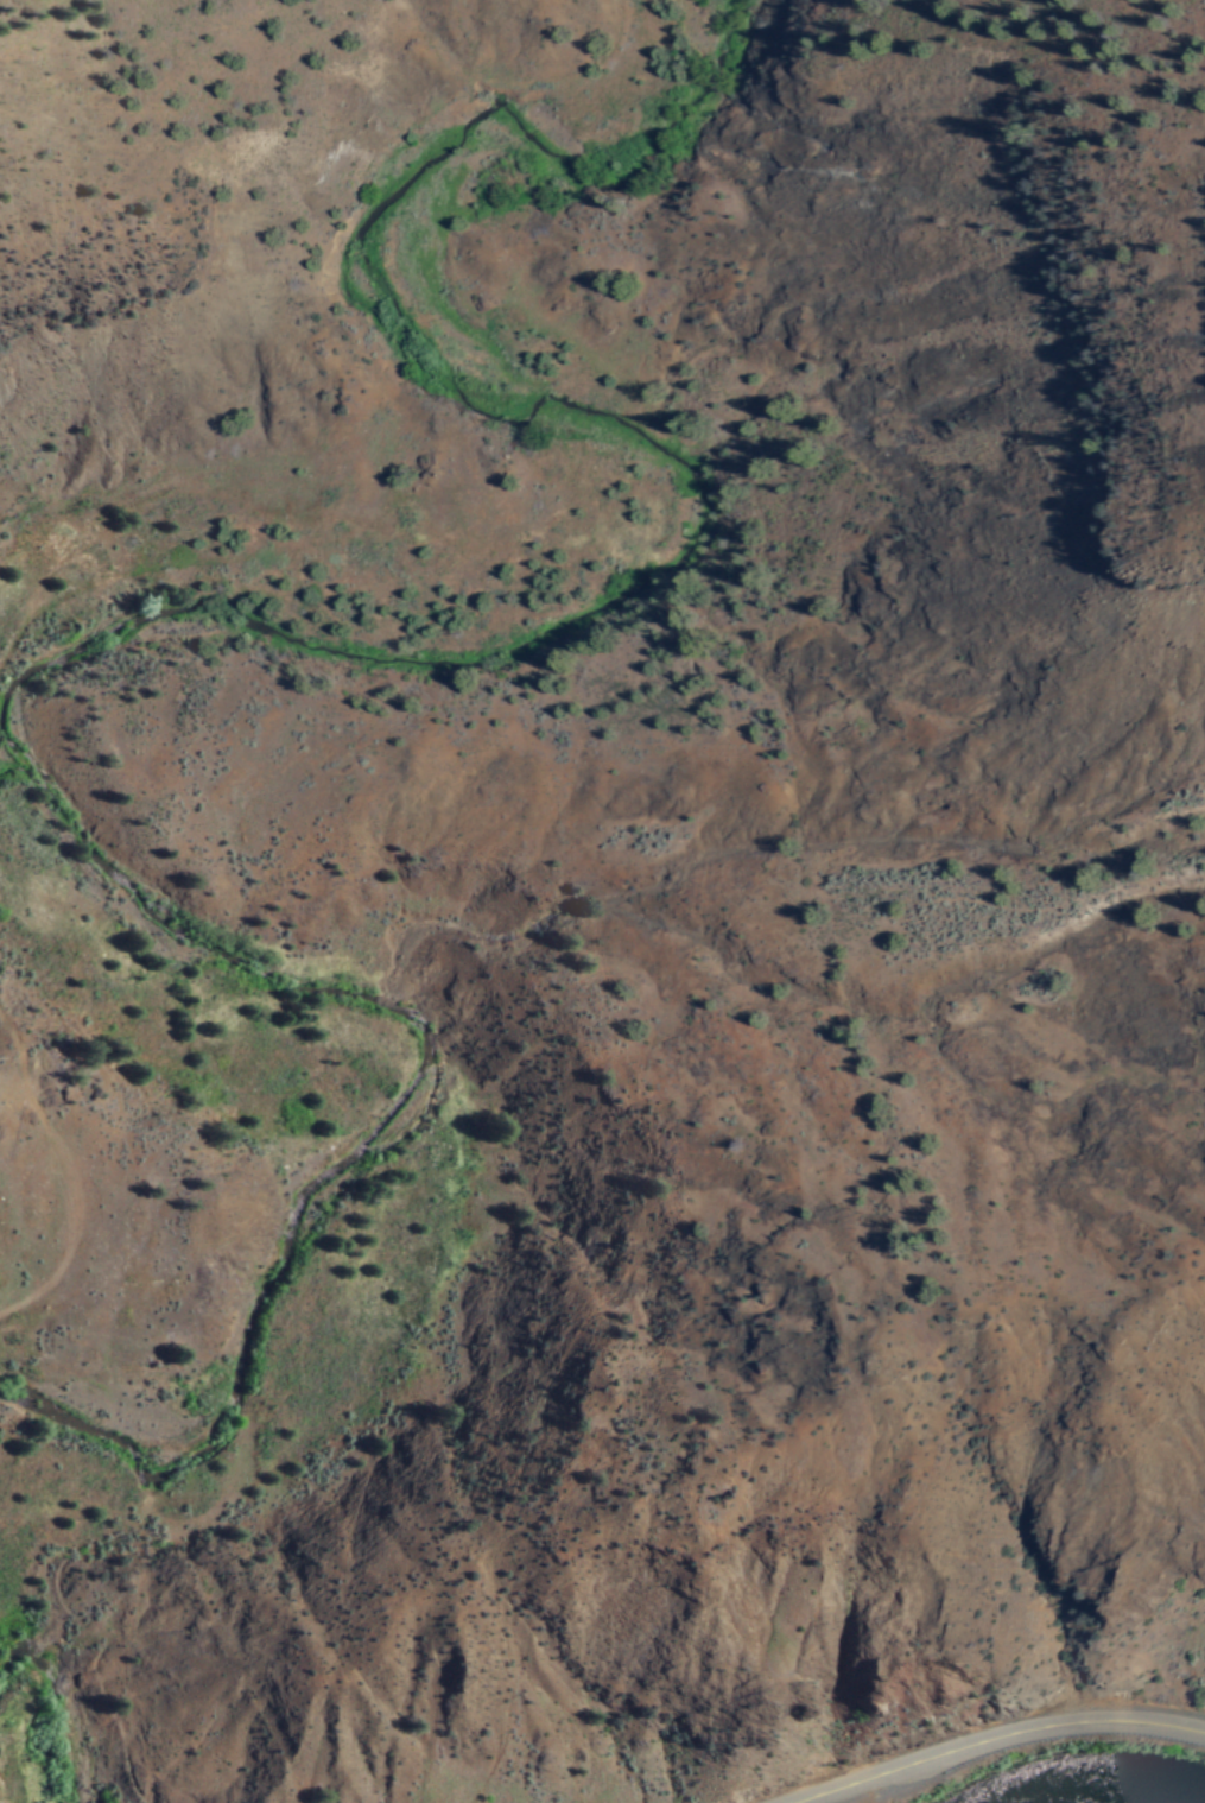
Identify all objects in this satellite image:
road: (1006, 1736)
parking lot: (886, 1801)

